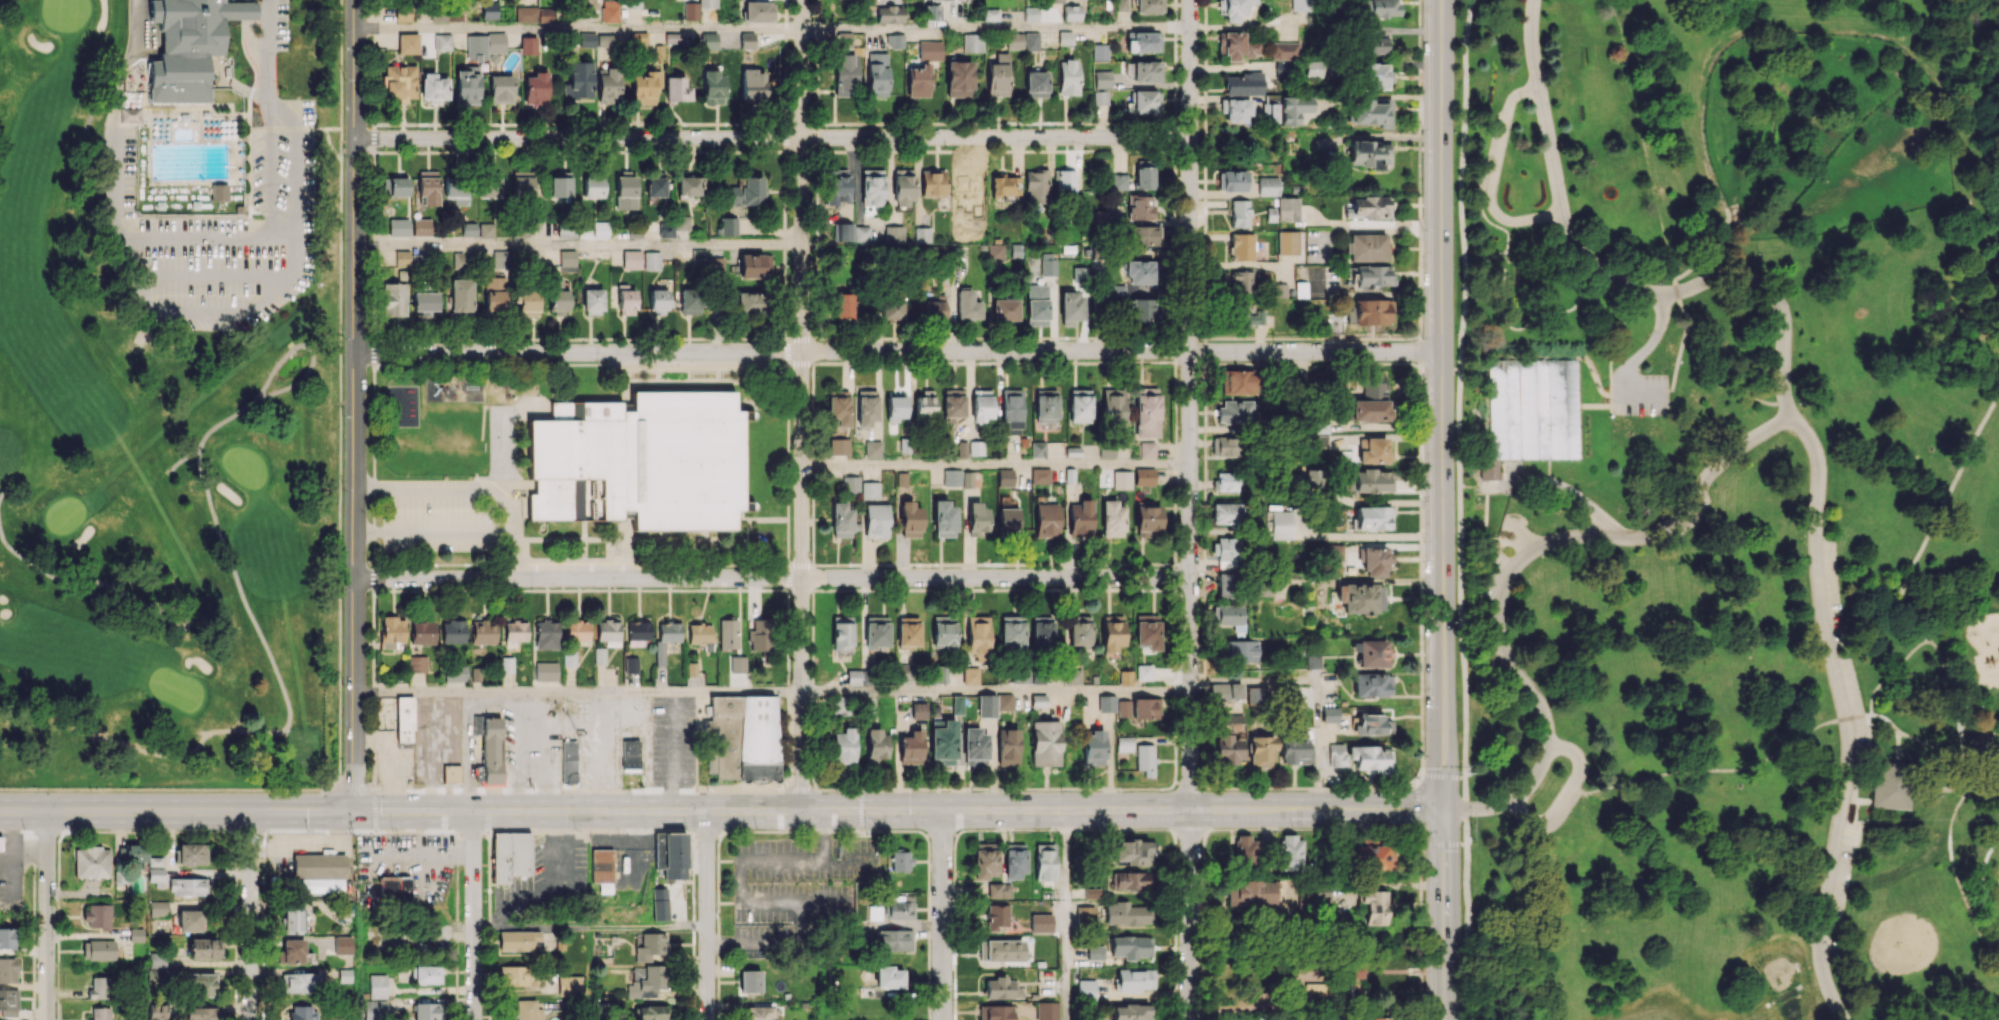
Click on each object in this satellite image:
building: (708, 3)
building: (633, 4)
building: (1120, 5)
building: (1300, 5)
building: (1149, 6)
building: (1233, 8)
building: (1381, 8)
building: (489, 10)
building: (154, 11)
building: (246, 11)
building: (609, 11)
building: (690, 11)
building: (758, 11)
building: (932, 12)
park: (65, 13)
building: (889, 13)
building: (1071, 13)
building: (403, 14)
building: (525, 14)
building: (546, 14)
building: (1030, 14)
parking lot: (279, 26)
road: (137, 27)
road: (773, 27)
road: (1754, 27)
road: (250, 37)
building: (1064, 37)
building: (586, 39)
building: (605, 40)
building: (638, 40)
building: (746, 40)
building: (844, 40)
building: (894, 40)
building: (442, 41)
building: (710, 41)
building: (1022, 41)
building: (972, 42)
building: (1144, 42)
building: (408, 43)
building: (485, 44)
building: (1373, 44)
building: (528, 45)
building: (1238, 46)
building: (187, 49)
road: (269, 50)
building: (929, 50)
building: (1283, 50)
building: (1099, 52)
street lamp: (1420, 53)
building: (1314, 68)
building: (1146, 71)
building: (844, 73)
building: (876, 74)
building: (998, 76)
building: (1373, 76)
building: (1068, 77)
building: (579, 79)
building: (959, 79)
building: (1102, 79)
building: (918, 81)
building: (399, 82)
building: (1036, 84)
building: (1243, 84)
building: (467, 85)
building: (608, 86)
building: (754, 86)
building: (434, 87)
building: (644, 87)
road: (243, 88)
building: (535, 88)
building: (713, 88)
building: (501, 89)
building: (676, 89)
building: (1100, 98)
building: (1146, 101)
street lamp: (1520, 103)
building: (1293, 108)
building: (1236, 110)
road: (290, 112)
building: (1371, 112)
building: (1270, 113)
building: (130, 115)
street lamp: (1453, 131)
road: (773, 136)
road: (1640, 138)
parking lot: (1494, 149)
building: (1368, 153)
street lamp: (1570, 170)
road: (1493, 173)
road: (1957, 173)
building: (1144, 174)
road: (800, 175)
building: (1232, 180)
building: (1119, 181)
building: (932, 182)
building: (1065, 182)
building: (522, 183)
building: (489, 184)
building: (560, 184)
building: (655, 185)
building: (690, 185)
building: (1037, 185)
building: (395, 186)
building: (836, 186)
building: (1005, 186)
building: (1268, 186)
building: (428, 187)
building: (593, 187)
building: (871, 187)
building: (903, 188)
building: (456, 189)
building: (219, 192)
building: (625, 192)
building: (746, 193)
building: (1140, 207)
building: (1368, 207)
building: (1287, 209)
building: (239, 210)
building: (1239, 213)
building: (682, 222)
building: (421, 226)
building: (727, 226)
building: (399, 227)
road: (123, 228)
building: (469, 228)
street lamp: (1420, 228)
building: (486, 229)
building: (566, 230)
building: (666, 230)
building: (842, 231)
building: (601, 232)
building: (861, 233)
building: (893, 233)
parking lot: (217, 234)
building: (922, 234)
building: (1144, 235)
building: (1287, 242)
road: (578, 245)
building: (1241, 246)
building: (1365, 247)
road: (1711, 248)
building: (995, 250)
street lamp: (1757, 252)
building: (698, 253)
building: (567, 257)
building: (402, 258)
building: (500, 258)
building: (631, 259)
building: (651, 260)
building: (716, 264)
building: (1048, 264)
building: (754, 265)
building: (1141, 272)
road: (196, 274)
building: (1370, 276)
building: (1242, 281)
building: (1300, 289)
building: (1116, 290)
building: (1280, 290)
building: (495, 291)
building: (615, 294)
building: (461, 295)
building: (394, 299)
building: (626, 299)
building: (425, 300)
building: (559, 301)
building: (592, 301)
building: (658, 301)
building: (690, 301)
building: (749, 303)
building: (528, 304)
building: (1037, 304)
building: (967, 305)
building: (843, 306)
building: (891, 307)
building: (934, 307)
building: (1071, 307)
building: (1004, 309)
building: (1141, 309)
building: (1372, 311)
road: (213, 312)
road: (1550, 314)
building: (1250, 315)
road: (1920, 319)
street lamp: (1456, 333)
road: (1645, 347)
road: (1118, 350)
road: (310, 352)
road: (579, 352)
road: (1562, 356)
road: (1712, 356)
road: (1676, 360)
building: (1239, 381)
building: (1375, 385)
building: (476, 390)
park: (167, 392)
parking lot: (1638, 393)
road: (1639, 394)
street lamp: (1800, 400)
road: (340, 401)
building: (924, 403)
building: (953, 403)
road: (1437, 404)
road: (357, 405)
building: (981, 405)
building: (1046, 405)
building: (1080, 405)
building: (1113, 406)
building: (838, 407)
building: (866, 407)
road: (1592, 407)
building: (895, 408)
building: (1368, 410)
building: (1531, 410)
building: (1011, 411)
building: (1237, 411)
building: (1146, 414)
road: (1795, 424)
building: (1320, 425)
road: (210, 431)
building: (1319, 441)
building: (839, 446)
building: (1226, 446)
building: (976, 448)
building: (872, 449)
building: (1038, 449)
building: (1146, 449)
park: (443, 450)
building: (1373, 451)
building: (640, 462)
road: (801, 463)
street lamp: (1419, 463)
park: (244, 465)
road: (996, 465)
building: (1489, 468)
building: (1039, 475)
building: (1144, 476)
building: (951, 477)
building: (1005, 477)
building: (902, 479)
building: (967, 479)
building: (1121, 479)
building: (1372, 480)
building: (1226, 481)
building: (850, 484)
road: (1489, 486)
road: (426, 487)
road: (515, 487)
building: (870, 490)
road: (3, 491)
road: (1696, 491)
road: (1458, 509)
park: (1726, 509)
road: (1190, 510)
building: (1226, 513)
park: (65, 514)
building: (627, 514)
parking lot: (437, 516)
building: (1147, 516)
building: (1080, 518)
building: (1112, 518)
building: (1373, 518)
parking lot: (1684, 518)
building: (910, 519)
building: (944, 519)
building: (975, 519)
building: (1007, 519)
building: (1046, 519)
building: (841, 520)
building: (876, 521)
building: (1280, 524)
road: (515, 528)
road: (436, 531)
road: (1521, 531)
street lamp: (1422, 540)
building: (1227, 551)
building: (1335, 552)
building: (1375, 561)
road: (32, 564)
street lamp: (1807, 570)
road: (1908, 574)
road: (579, 576)
road: (996, 576)
building: (1227, 585)
building: (1261, 589)
building: (1362, 598)
building: (1228, 614)
building: (577, 630)
building: (1078, 630)
building: (392, 631)
building: (453, 631)
building: (483, 631)
building: (876, 631)
building: (1011, 631)
building: (1147, 631)
building: (422, 632)
building: (514, 632)
building: (608, 632)
building: (637, 632)
building: (908, 632)
building: (944, 632)
building: (1041, 632)
building: (842, 633)
building: (1112, 633)
building: (727, 634)
building: (546, 635)
building: (701, 635)
building: (976, 635)
building: (761, 637)
building: (665, 638)
parking lot: (1839, 645)
building: (1239, 650)
building: (1370, 653)
building: (599, 655)
building: (569, 658)
building: (1314, 661)
building: (737, 663)
road: (273, 664)
building: (417, 664)
building: (507, 664)
building: (631, 664)
building: (691, 669)
building: (545, 671)
building: (904, 671)
building: (1144, 672)
building: (939, 673)
building: (455, 674)
building: (1020, 675)
building: (970, 676)
building: (1072, 676)
road: (1889, 676)
building: (853, 677)
building: (1126, 677)
road: (1521, 679)
building: (1372, 684)
park: (175, 687)
building: (1226, 690)
road: (902, 692)
road: (802, 693)
building: (1257, 694)
building: (1293, 695)
building: (1038, 700)
building: (1005, 701)
building: (1107, 703)
building: (957, 705)
building: (986, 705)
street lamp: (1423, 706)
building: (1123, 708)
building: (1146, 708)
street lamp: (1974, 708)
building: (918, 710)
building: (1330, 714)
building: (1230, 718)
building: (404, 719)
building: (1372, 725)
road: (1818, 725)
building: (744, 737)
road: (1981, 742)
building: (943, 743)
building: (1045, 743)
building: (1124, 743)
building: (843, 745)
building: (876, 746)
building: (974, 746)
building: (1007, 746)
road: (1897, 746)
road: (1932, 746)
building: (910, 748)
building: (1093, 748)
building: (1227, 749)
building: (490, 750)
road: (468, 751)
building: (1261, 752)
building: (1294, 752)
building: (1337, 754)
building: (630, 755)
building: (1371, 758)
building: (1145, 759)
street lamp: (1833, 760)
building: (568, 761)
road: (1684, 771)
building: (450, 773)
street lamp: (1709, 774)
street lamp: (1461, 777)
road: (1857, 783)
building: (1888, 786)
road: (1939, 789)
parking lot: (1571, 790)
road: (168, 791)
road: (1568, 797)
road: (1854, 801)
traffic signals: (1441, 808)
traffic signals: (355, 810)
traffic signals: (862, 810)
road: (720, 811)
street lamp: (1860, 816)
street lamp: (1461, 833)
building: (1, 844)
road: (23, 850)
building: (135, 852)
building: (1132, 852)
building: (1290, 852)
building: (192, 854)
building: (670, 854)
building: (509, 855)
building: (1372, 857)
road: (1949, 859)
building: (984, 860)
building: (155, 861)
building: (900, 861)
building: (1013, 861)
building: (91, 862)
building: (1044, 862)
building: (317, 867)
road: (741, 867)
building: (601, 869)
building: (156, 876)
building: (1129, 881)
building: (187, 886)
building: (394, 887)
building: (998, 890)
road: (1982, 890)
building: (1325, 900)
parking lot: (1834, 901)
building: (660, 903)
building: (1375, 906)
building: (158, 908)
building: (899, 908)
building: (874, 912)
road: (1555, 912)
building: (1127, 913)
road: (943, 914)
road: (1065, 914)
building: (1085, 914)
road: (1441, 914)
road: (47, 915)
road: (250, 915)
road: (471, 915)
road: (707, 915)
building: (96, 916)
building: (996, 917)
building: (189, 920)
building: (294, 920)
building: (1040, 922)
road: (602, 926)
street lamp: (1833, 930)
building: (7, 939)
building: (894, 939)
building: (519, 940)
road: (774, 943)
building: (343, 944)
building: (651, 945)
building: (1131, 946)
building: (205, 948)
building: (98, 949)
building: (1003, 950)
building: (292, 951)
building: (1095, 952)
building: (156, 959)
road: (1996, 963)
building: (1353, 971)
building: (427, 974)
building: (513, 975)
building: (889, 977)
building: (1135, 980)
building: (647, 981)
building: (749, 981)
building: (299, 982)
building: (200, 984)
building: (569, 985)
building: (377, 986)
building: (100, 987)
building: (1001, 988)
building: (1086, 989)
building: (1314, 991)
building: (8, 1003)
street lamp: (1822, 1006)
building: (375, 1010)
building: (527, 1010)
building: (428, 1011)
building: (1047, 1011)
building: (155, 1012)
building: (301, 1012)
building: (652, 1012)
building: (995, 1012)
building: (1130, 1012)
building: (100, 1013)
building: (201, 1013)
building: (1374, 1018)

